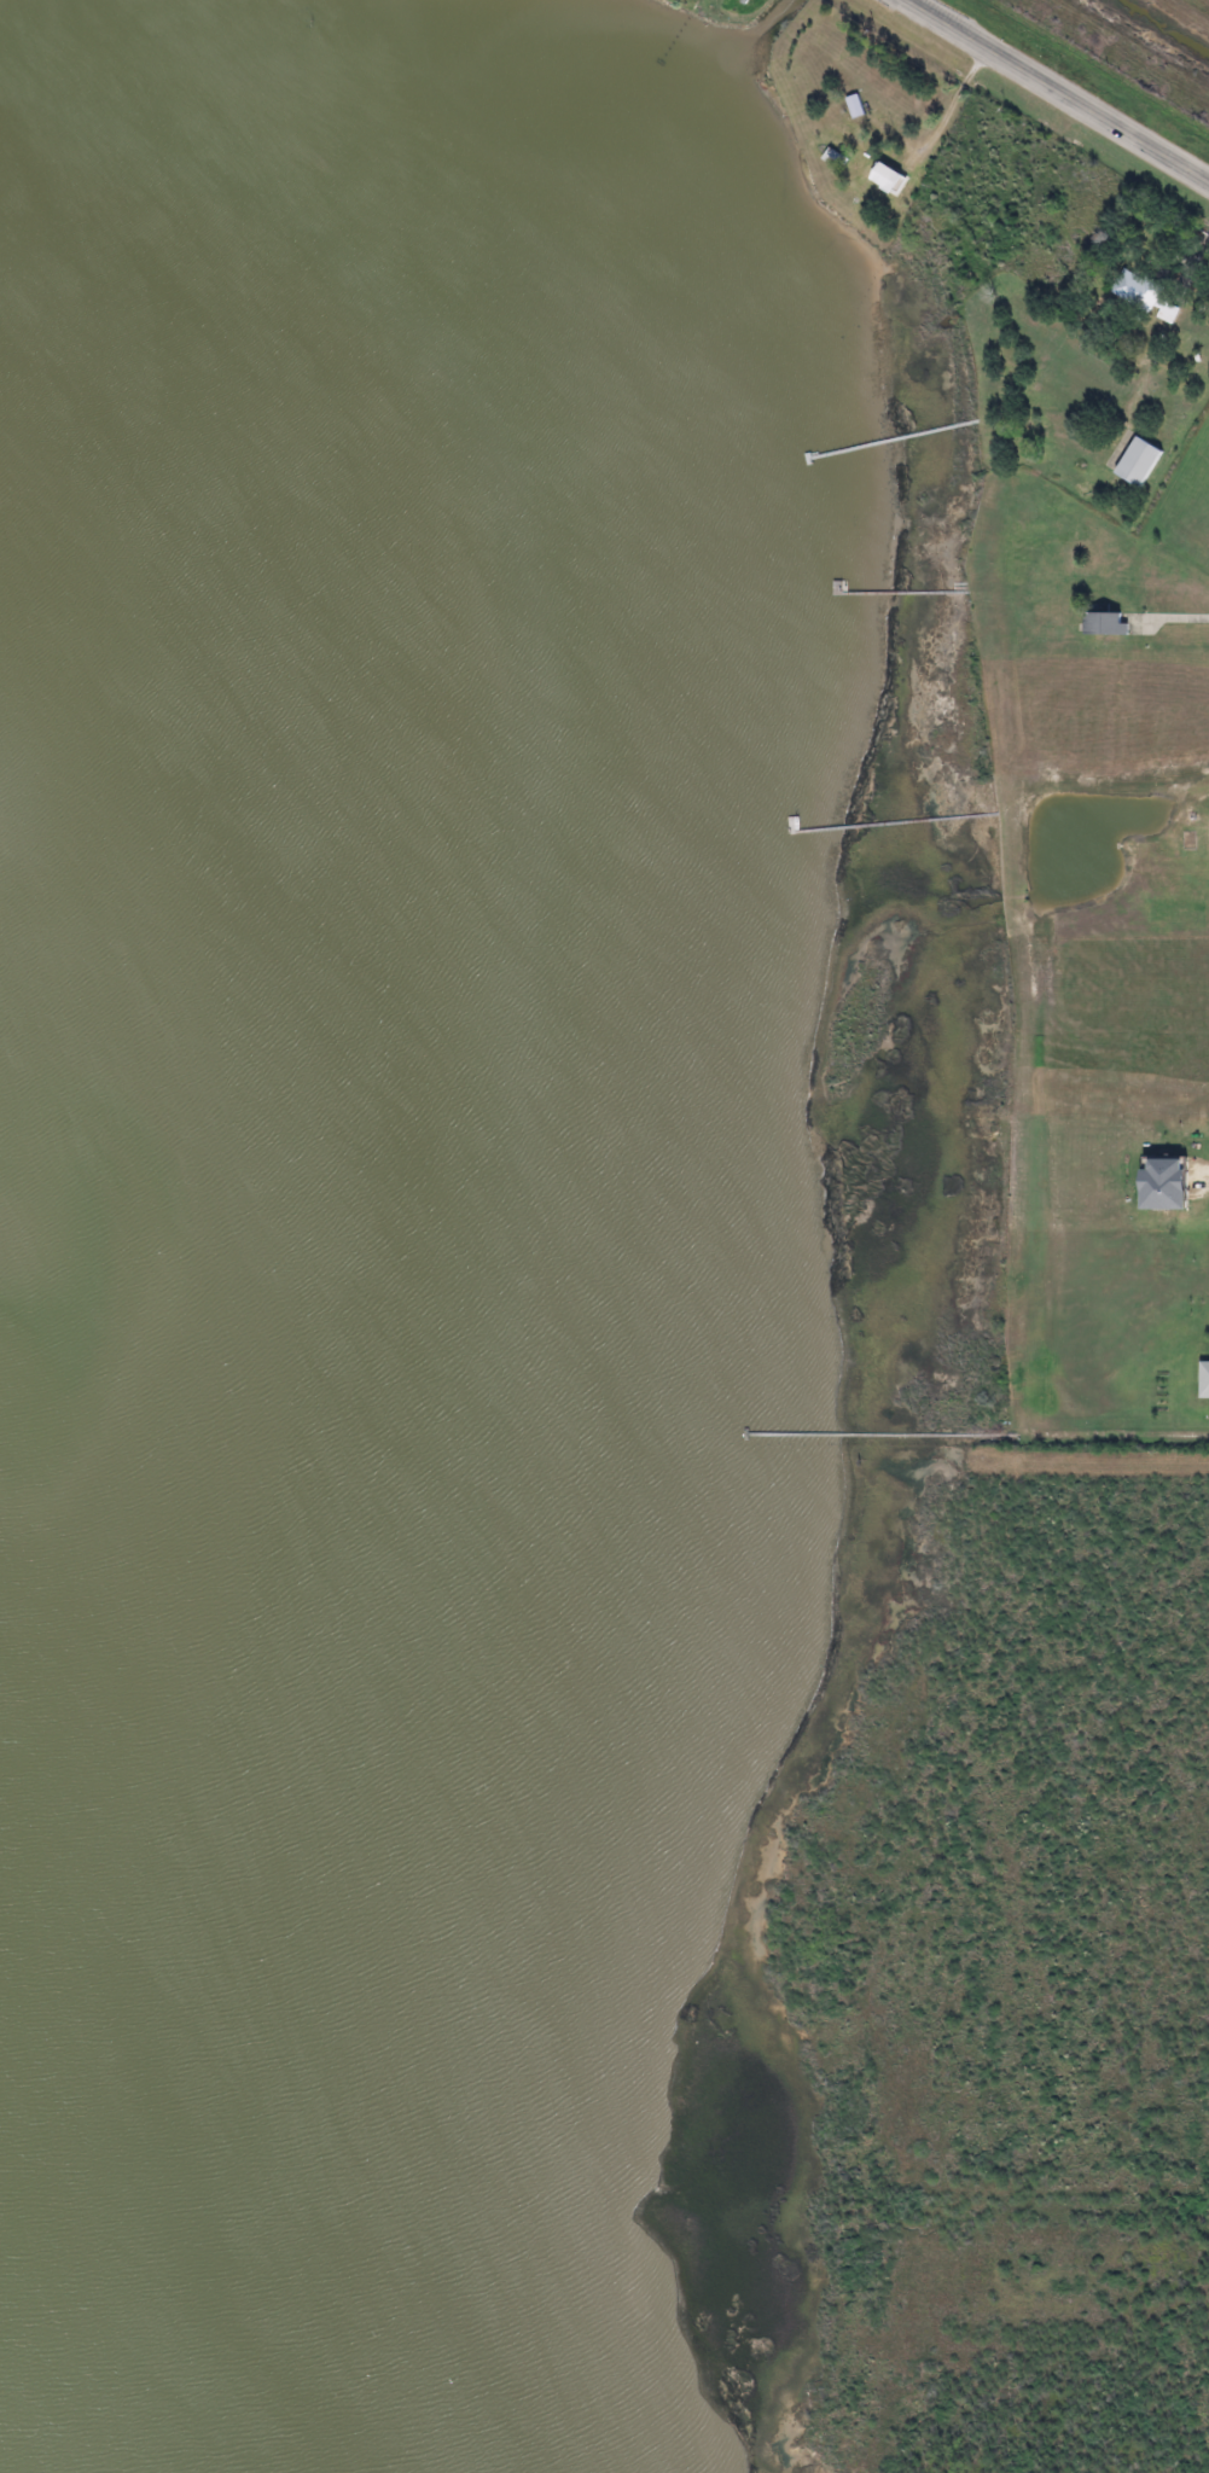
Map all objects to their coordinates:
road: (1063, 88)
building: (855, 103)
building: (887, 175)
building: (1144, 297)
building: (1140, 460)
building: (1103, 624)
building: (1161, 1186)
building: (1207, 1380)

